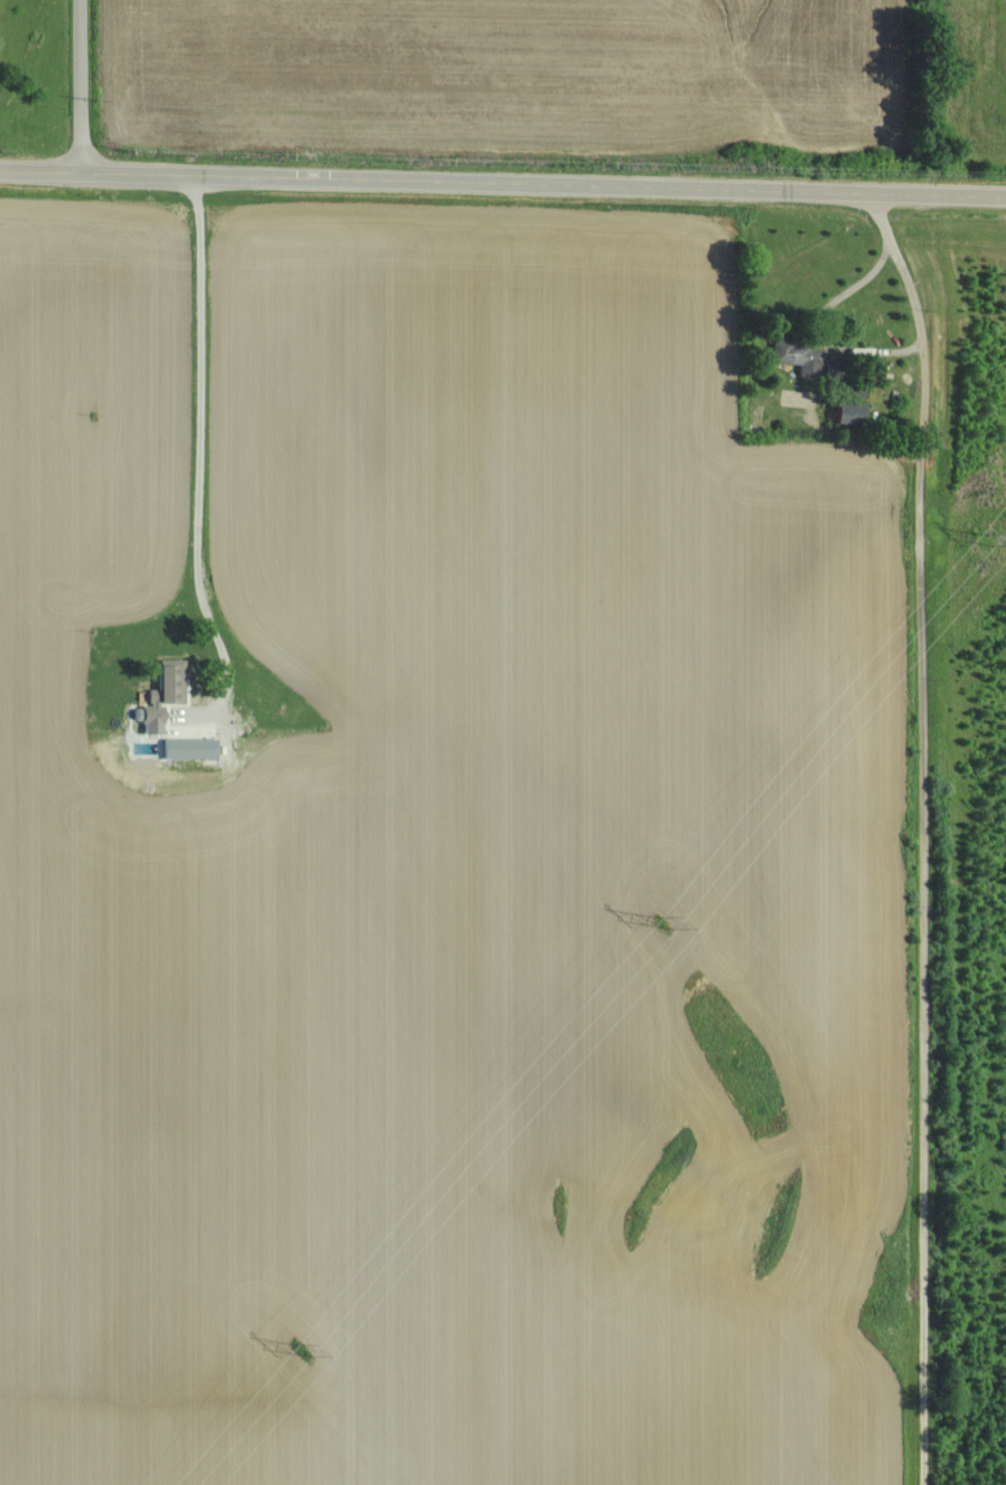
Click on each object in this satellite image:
road: (80, 87)
road: (502, 182)
building: (797, 356)
building: (847, 411)
road: (198, 455)
power tower: (981, 540)
building: (163, 692)
building: (188, 747)
road: (920, 834)
power tower: (660, 924)
power tower: (301, 1351)

